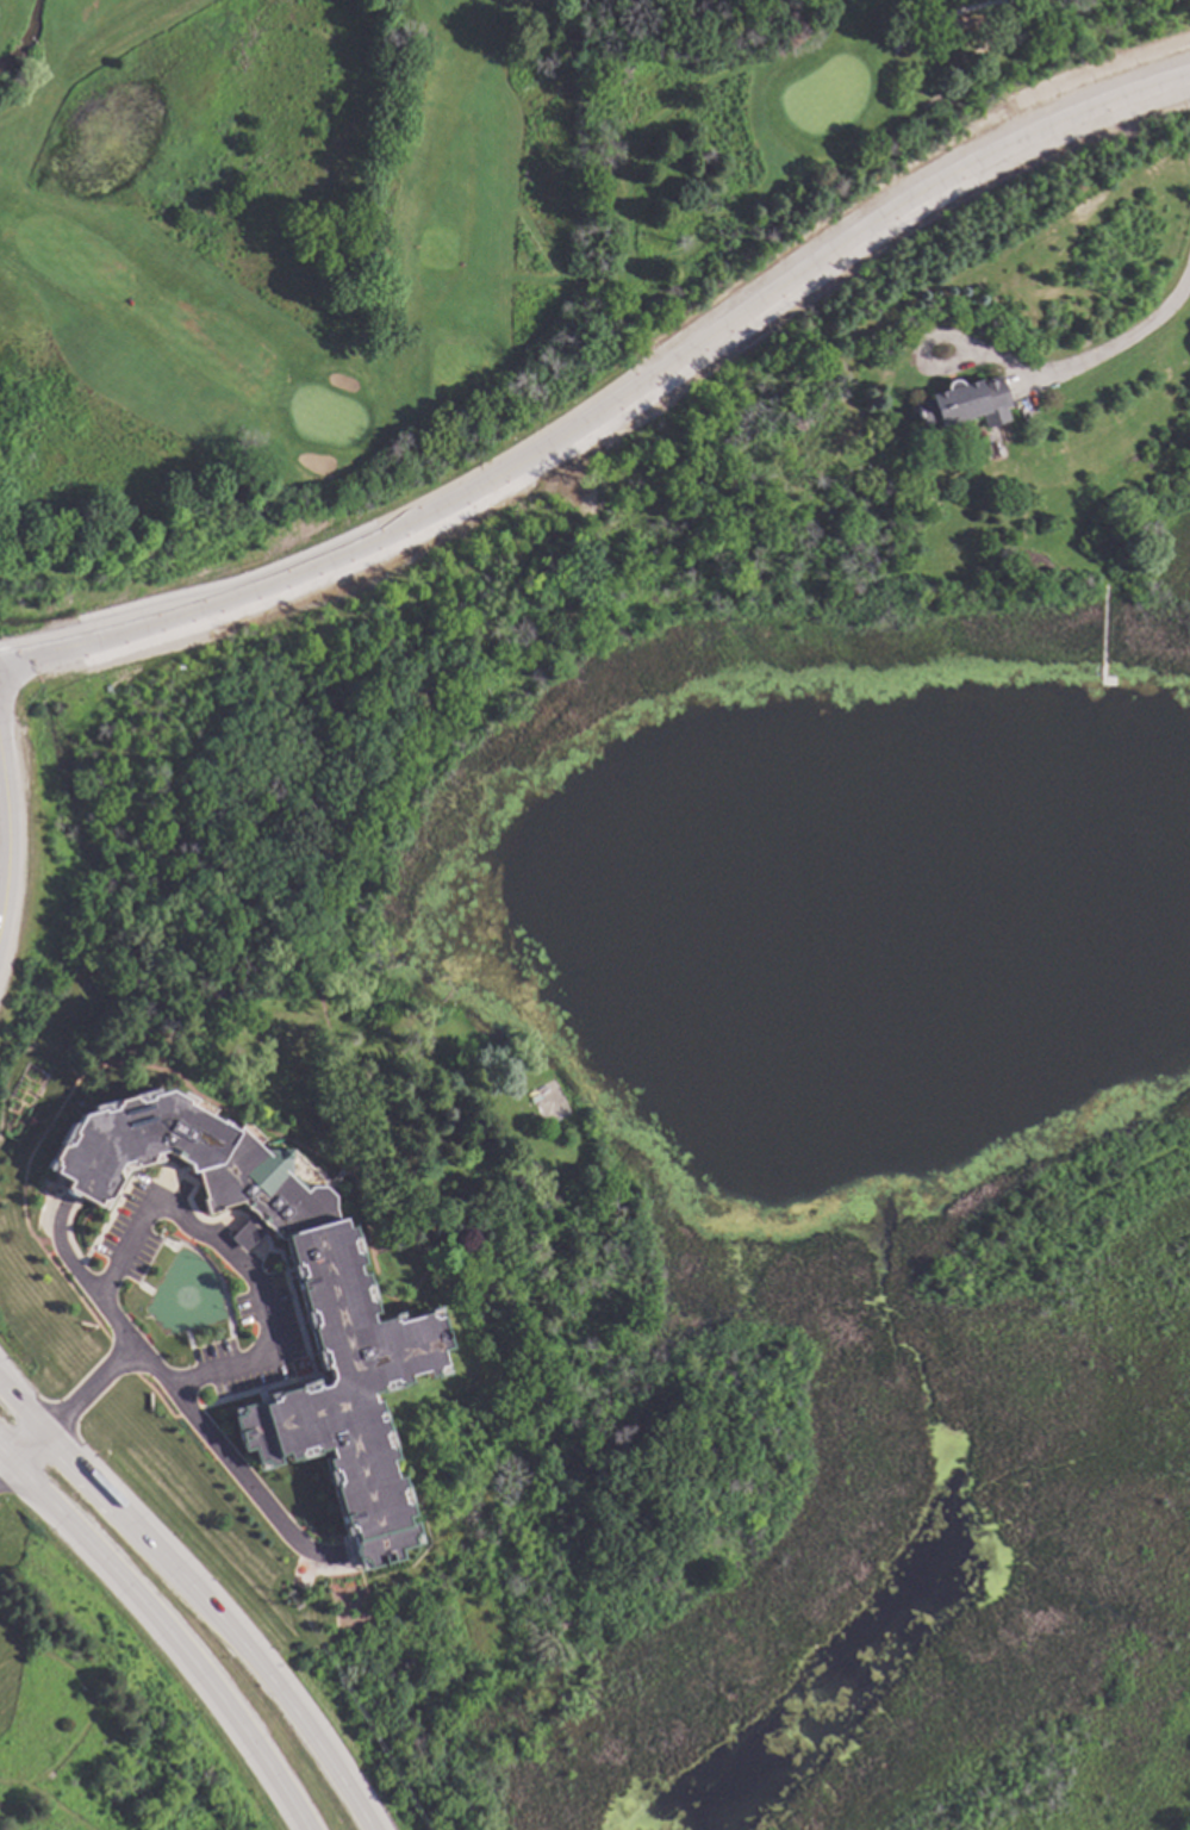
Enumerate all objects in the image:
road: (947, 15)
road: (23, 41)
road: (643, 132)
park: (390, 193)
park: (425, 224)
road: (647, 264)
road: (1123, 342)
building: (964, 403)
road: (613, 409)
road: (4, 830)
road: (241, 1263)
road: (81, 1274)
building: (378, 1346)
road: (186, 1407)
road: (25, 1449)
road: (4, 1470)
road: (197, 1596)
road: (162, 1633)

